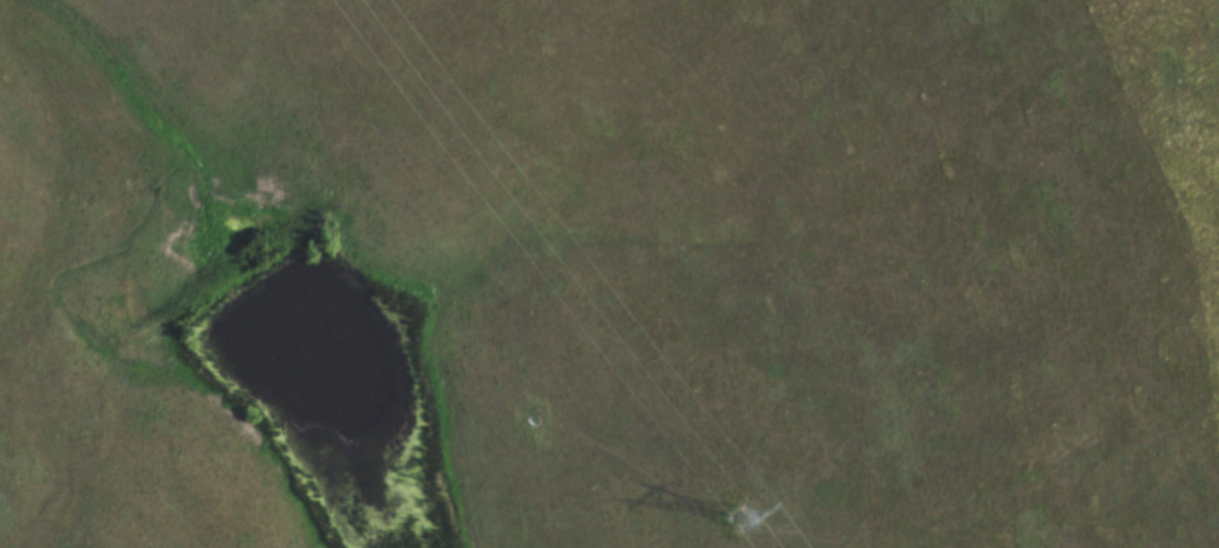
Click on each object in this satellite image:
power tower: (737, 517)

